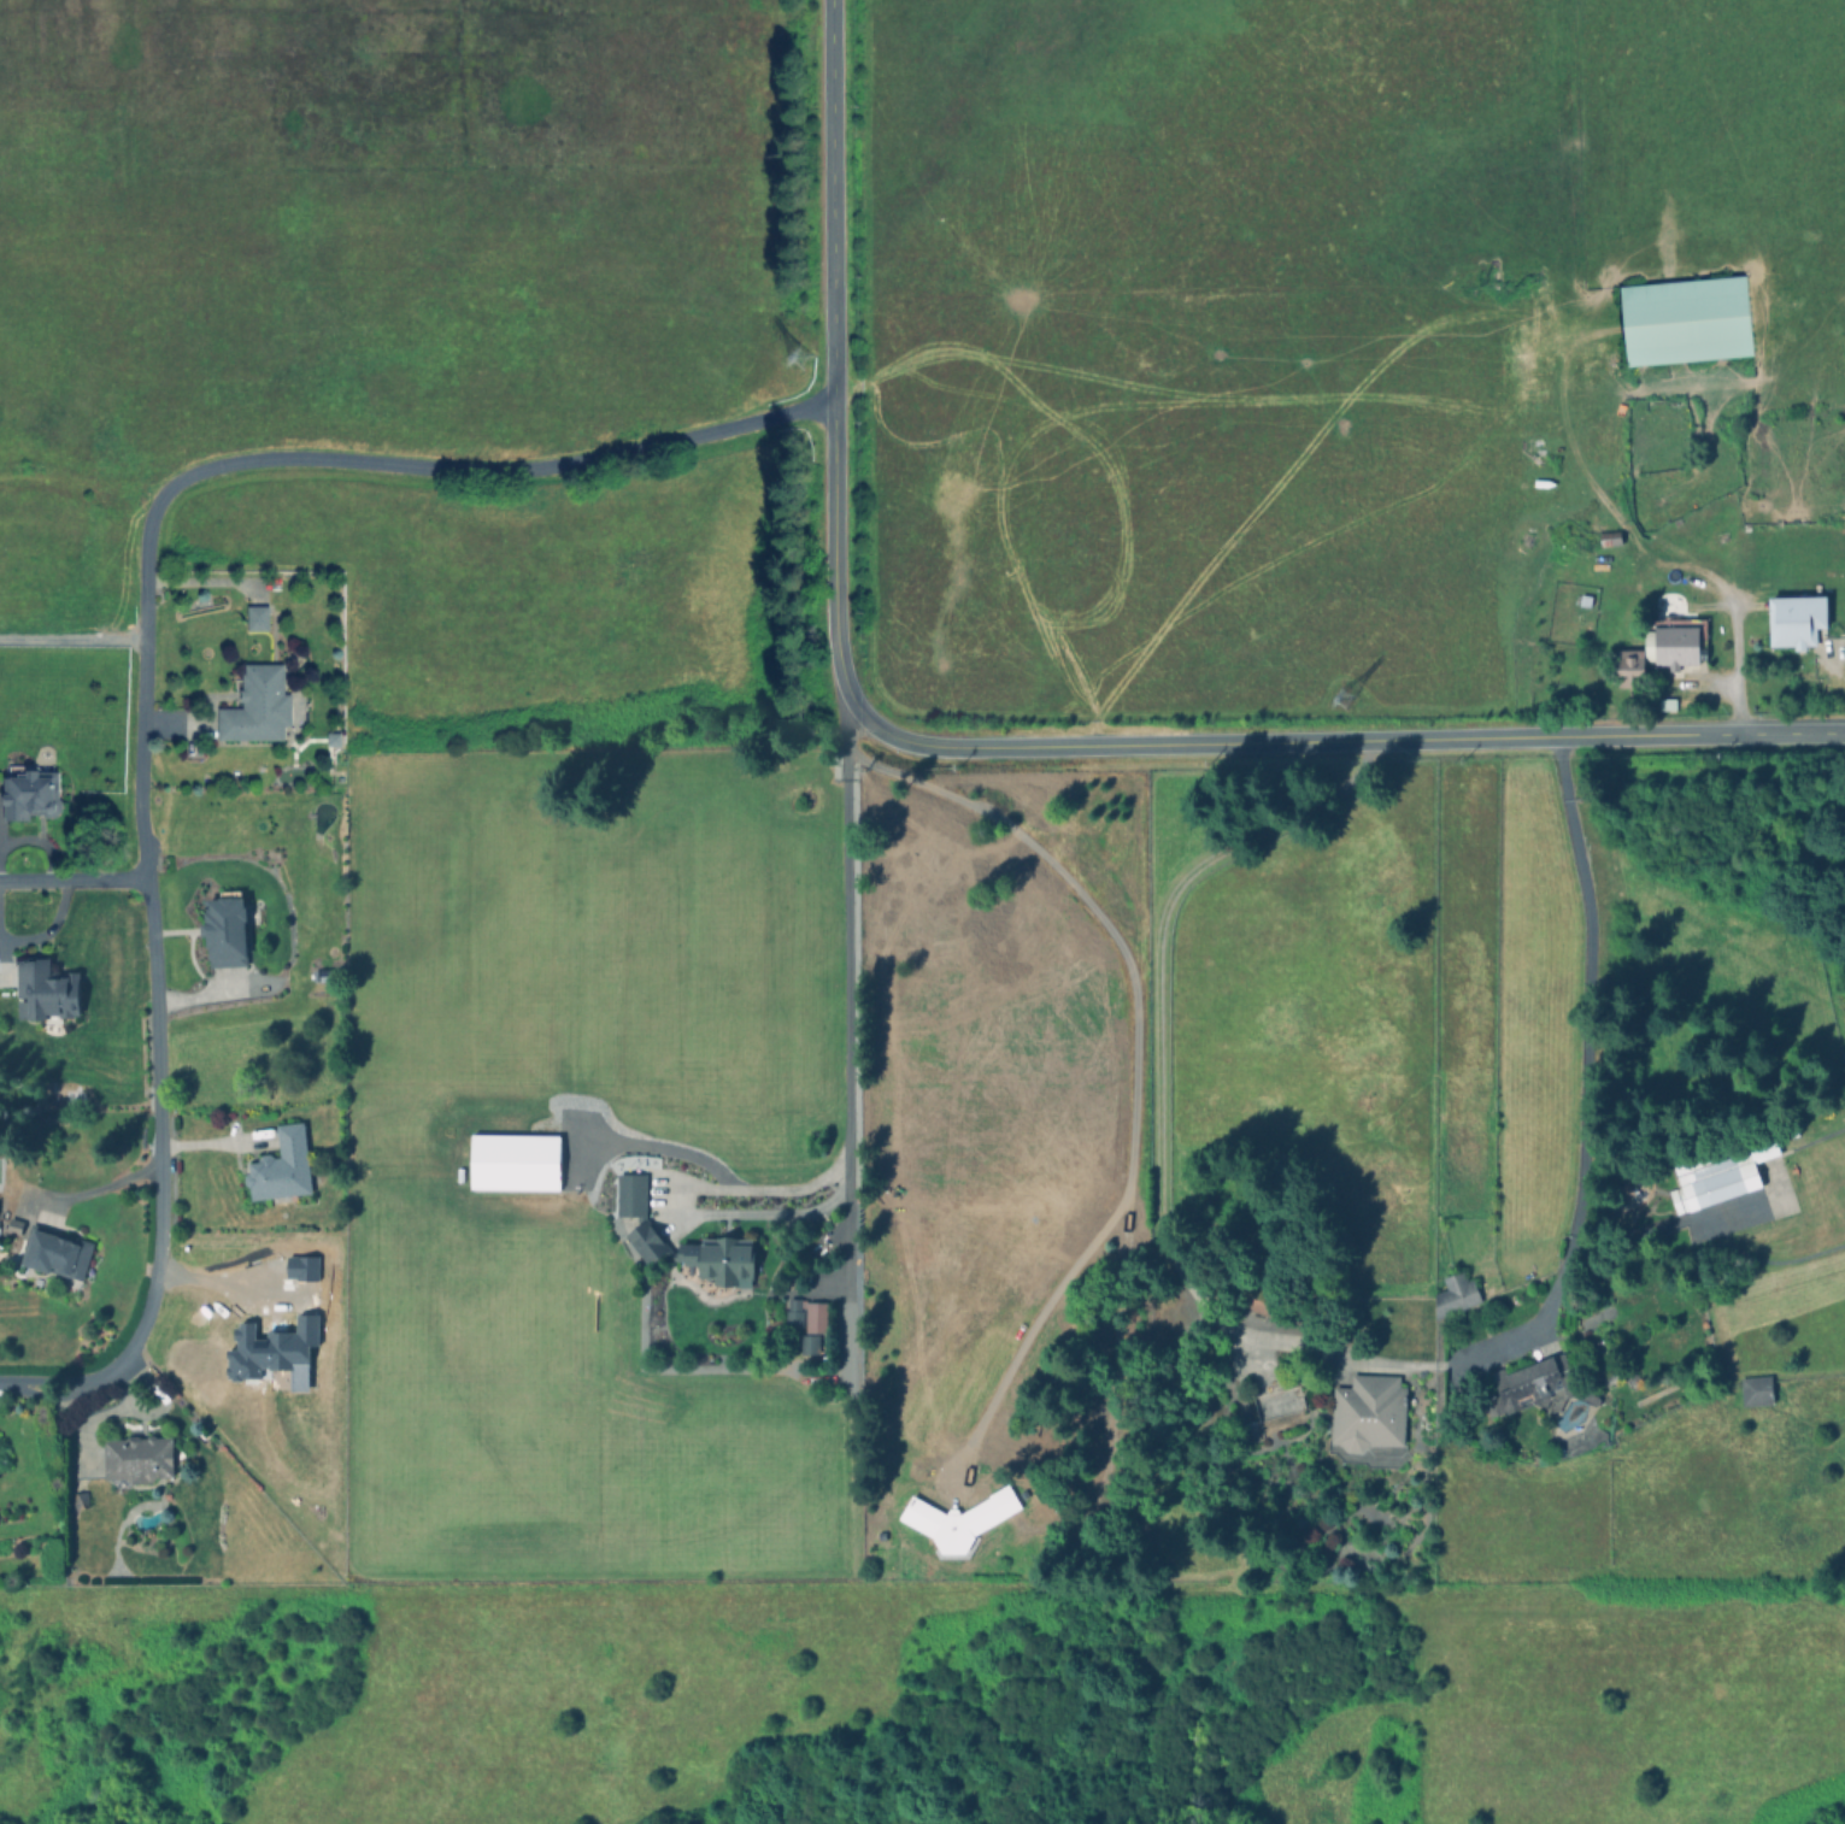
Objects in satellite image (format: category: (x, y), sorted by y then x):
building: (1685, 319)
road: (834, 358)
power tower: (787, 367)
road: (499, 466)
building: (257, 616)
building: (1794, 619)
road: (1732, 631)
building: (1673, 642)
building: (1628, 661)
power tower: (1324, 704)
building: (260, 705)
road: (1347, 739)
building: (29, 792)
road: (74, 876)
road: (148, 913)
building: (224, 928)
building: (319, 975)
building: (43, 990)
road: (1158, 1052)
road: (1135, 1053)
road: (1592, 1073)
road: (847, 1119)
building: (513, 1161)
building: (280, 1165)
building: (1714, 1177)
road: (93, 1189)
building: (630, 1194)
building: (12, 1225)
building: (645, 1242)
building: (53, 1252)
building: (719, 1259)
road: (219, 1288)
building: (1453, 1294)
building: (1256, 1299)
building: (807, 1343)
road: (76, 1383)
building: (1528, 1384)
building: (1755, 1390)
building: (1367, 1412)
building: (135, 1459)
building: (958, 1519)

